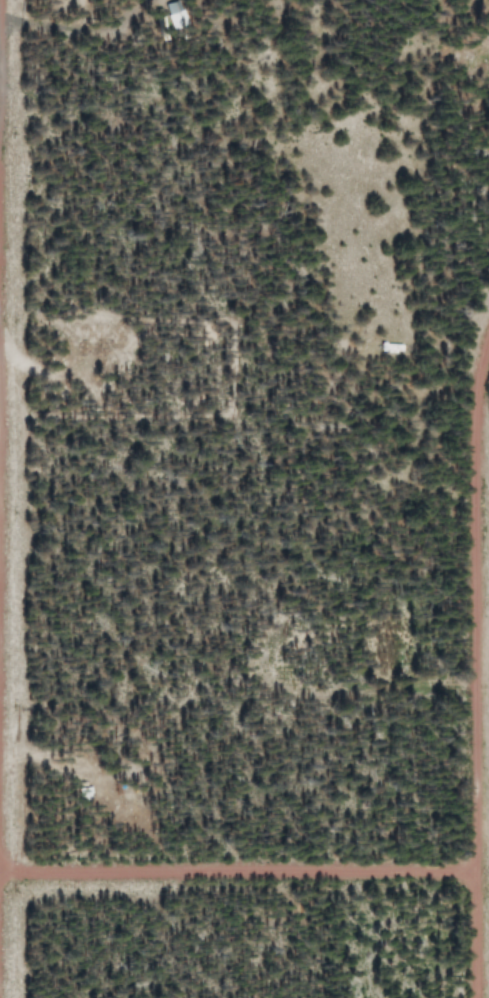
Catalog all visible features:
road: (472, 662)
road: (236, 871)

